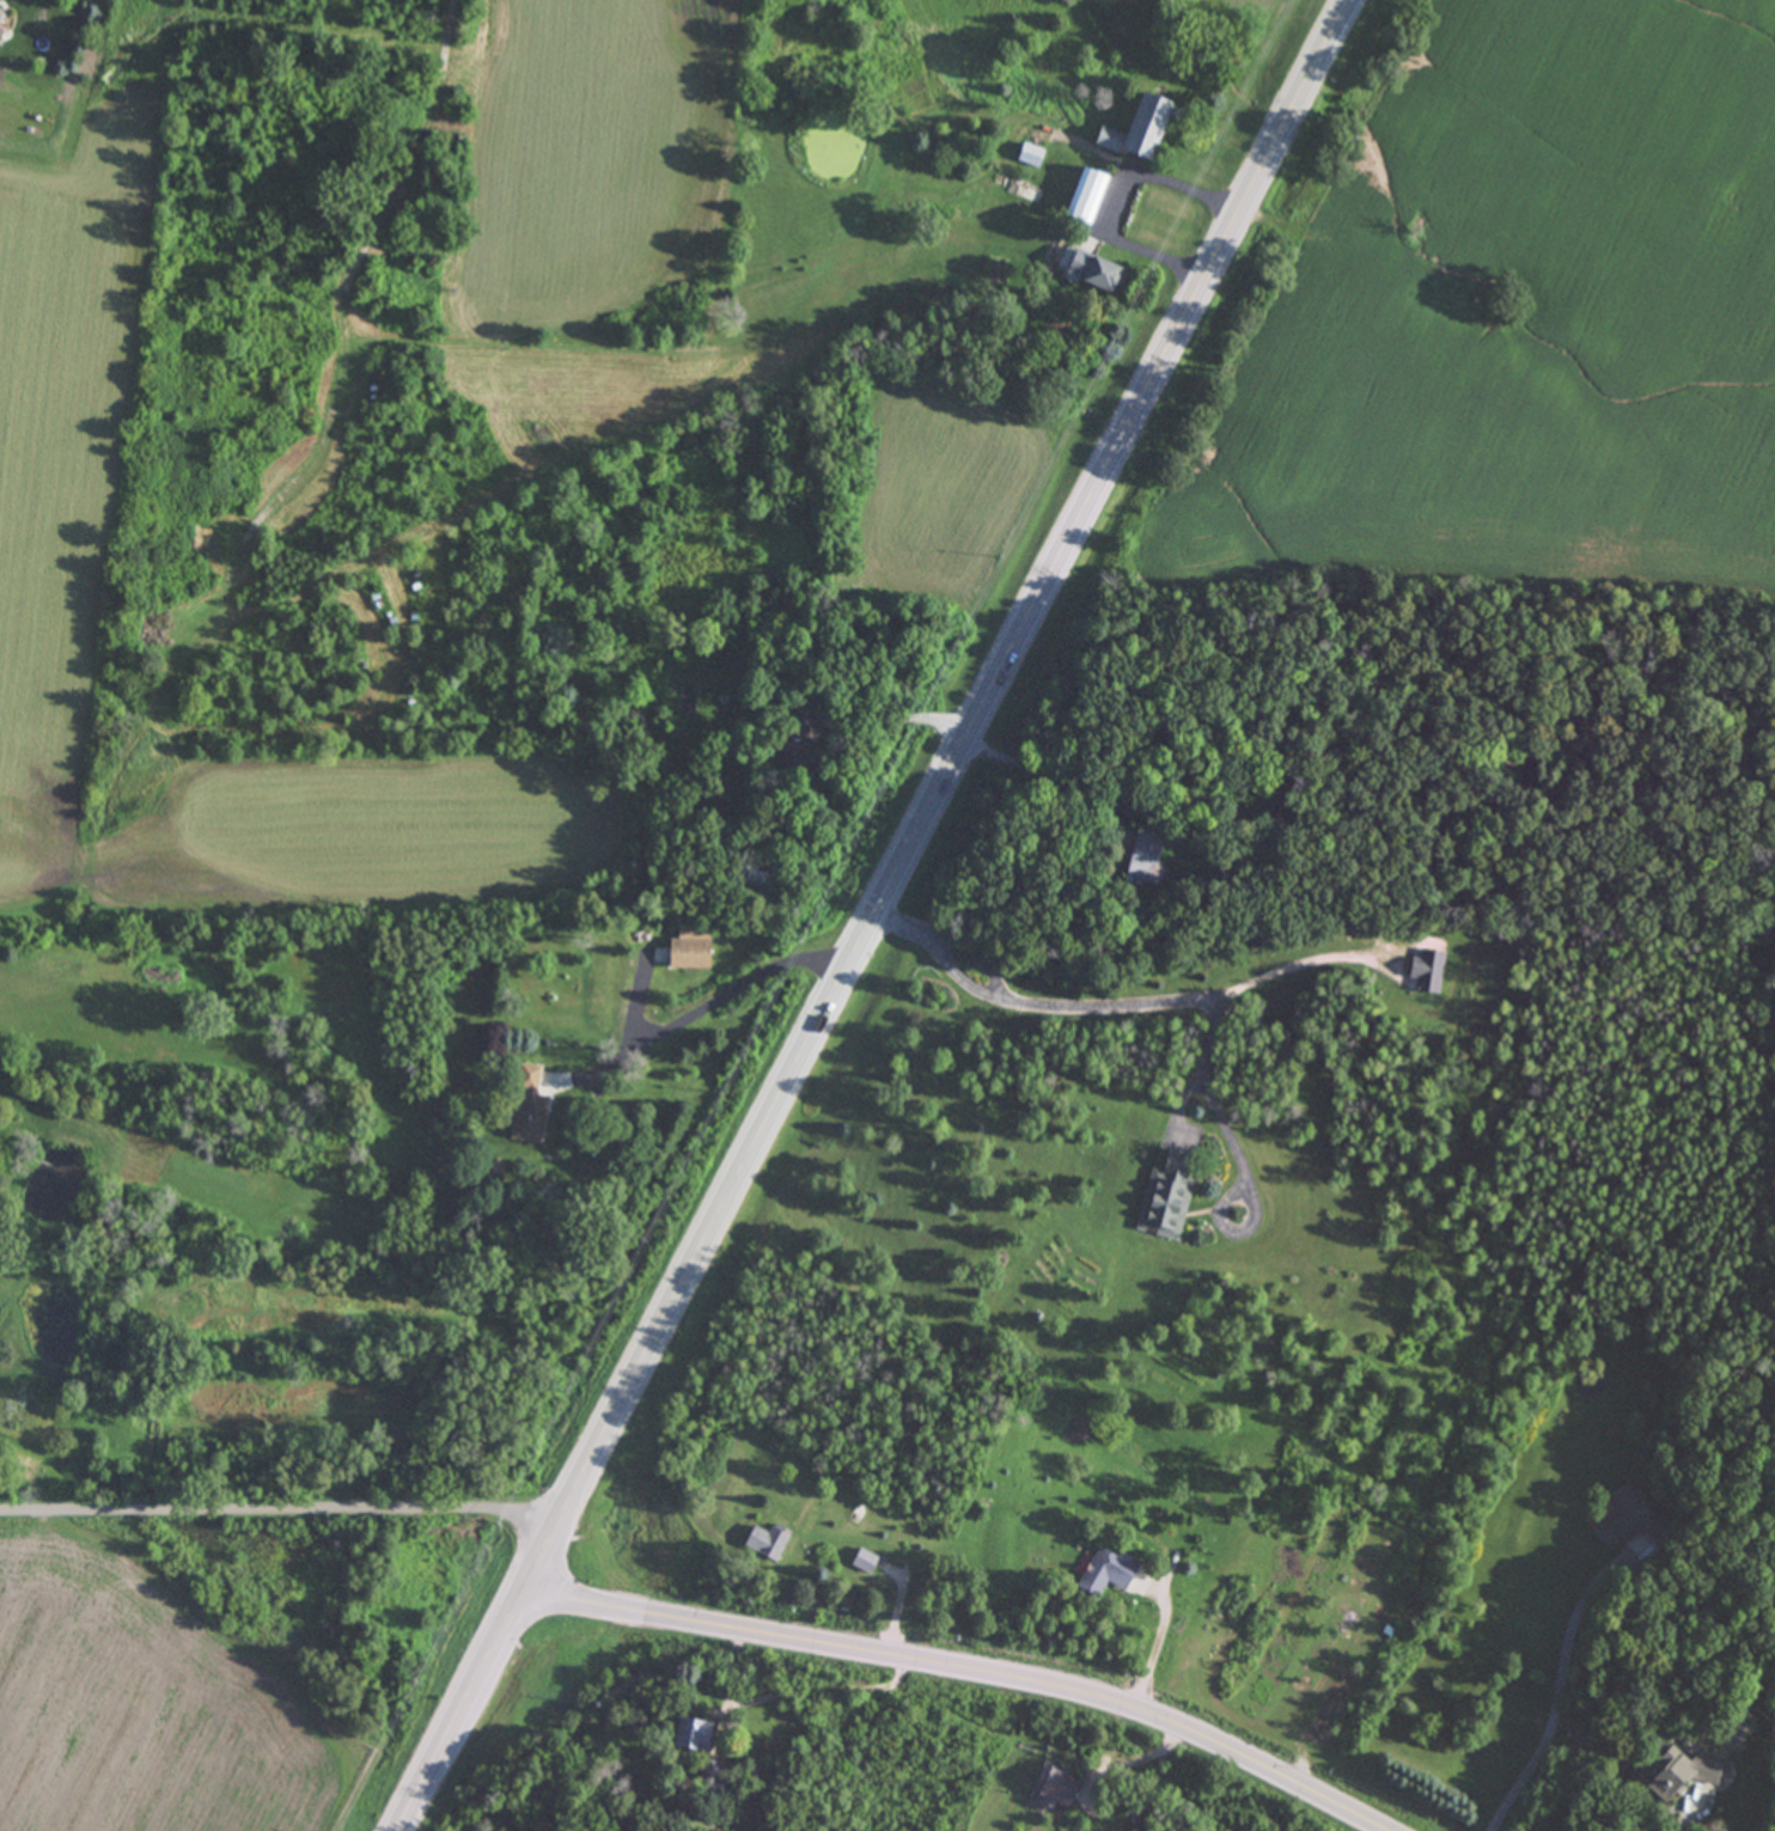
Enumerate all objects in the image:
building: (1135, 130)
building: (1029, 155)
building: (1085, 197)
building: (1088, 270)
building: (798, 734)
building: (1141, 857)
building: (752, 880)
road: (879, 915)
building: (689, 948)
building: (1426, 971)
road: (715, 996)
road: (1118, 1002)
building: (526, 1107)
building: (1164, 1197)
road: (282, 1521)
building: (1627, 1524)
building: (764, 1543)
building: (861, 1562)
building: (1102, 1573)
road: (1153, 1643)
road: (959, 1679)
road: (1554, 1697)
building: (688, 1737)
building: (1677, 1774)
building: (707, 1780)
building: (1054, 1787)

